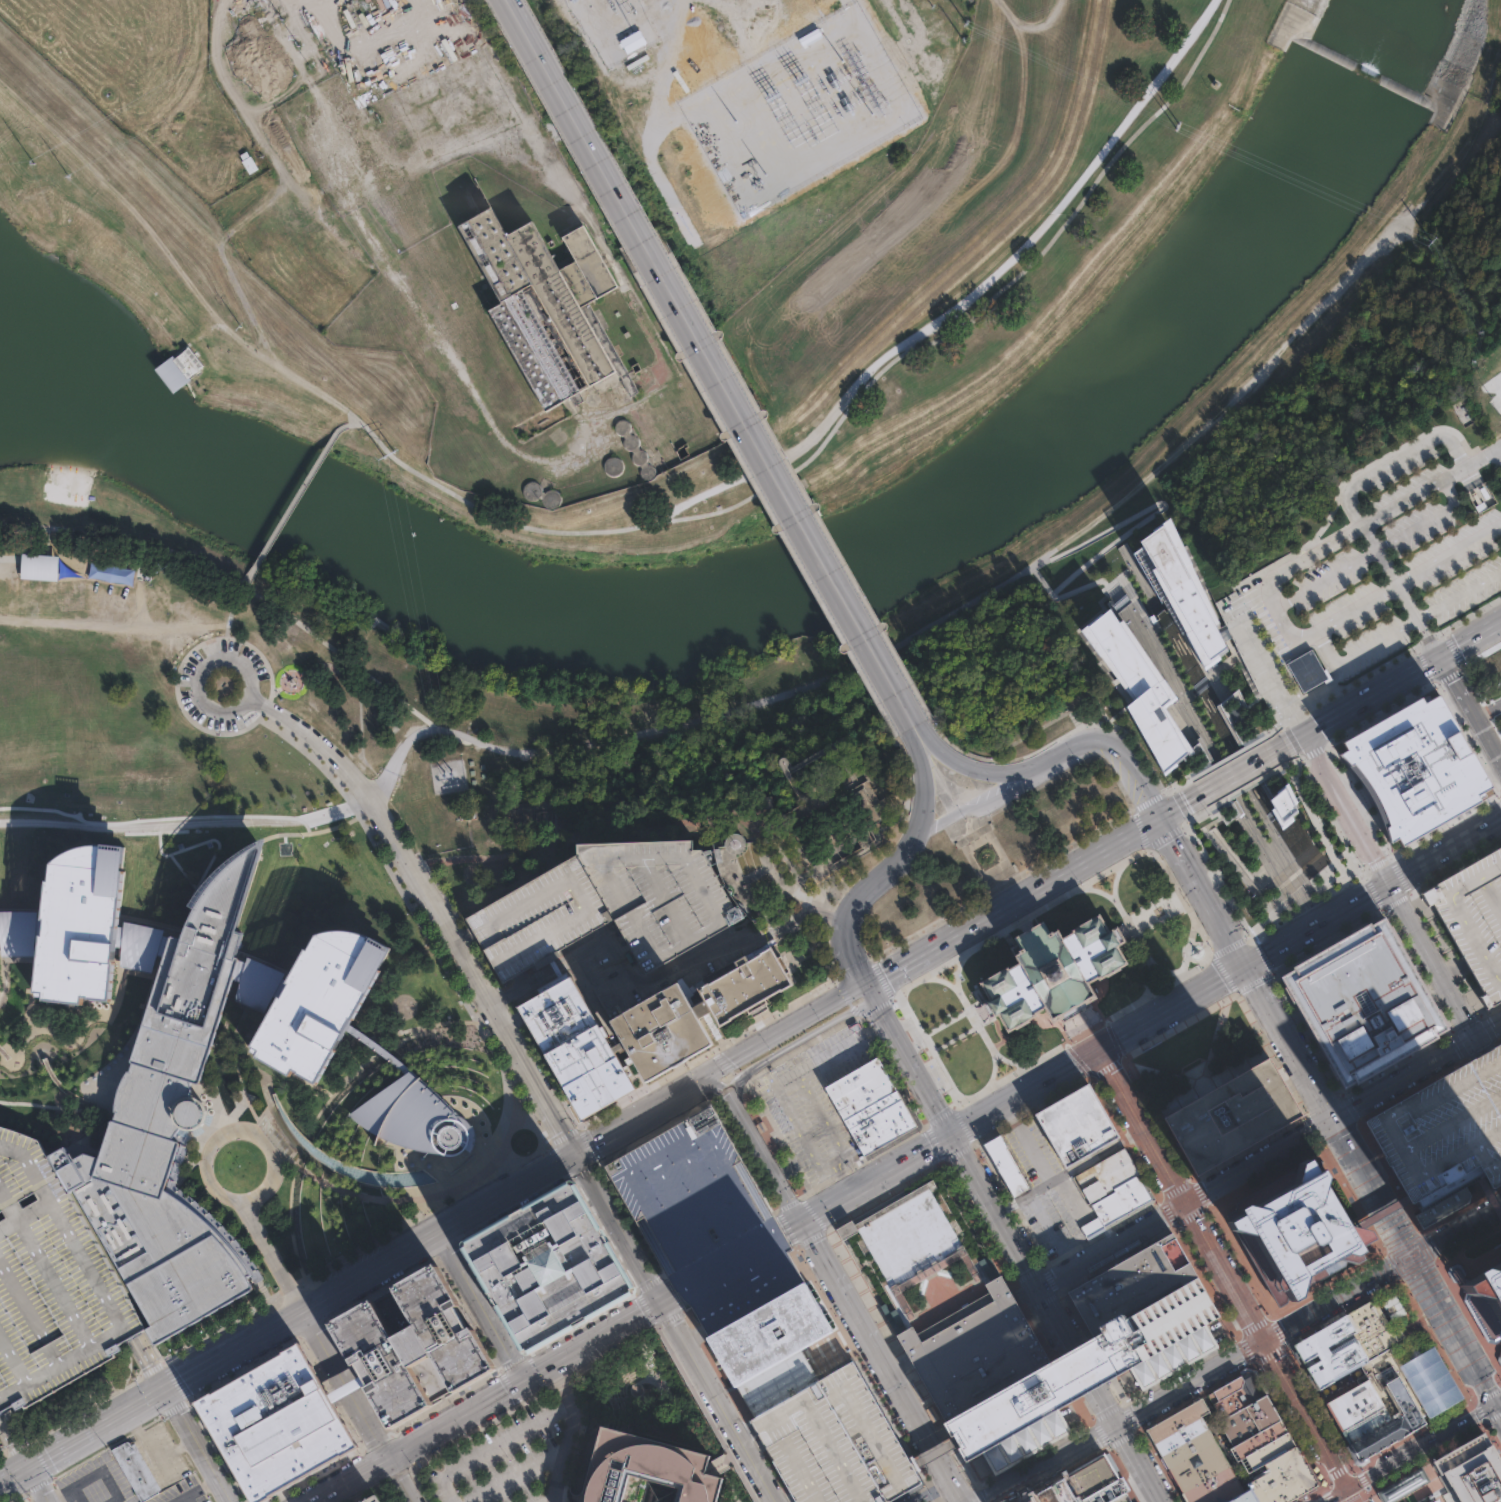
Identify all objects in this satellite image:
road: (339, 40)
power tower: (297, 45)
road: (1492, 68)
power tower: (33, 162)
building: (248, 162)
power tower: (68, 176)
road: (561, 177)
park: (928, 179)
road: (1419, 199)
park: (1394, 223)
road: (384, 269)
road: (970, 295)
building: (543, 305)
park: (1094, 338)
river: (44, 347)
park: (130, 350)
road: (709, 362)
building: (179, 367)
road: (290, 371)
river: (44, 394)
road: (852, 410)
road: (352, 424)
building: (635, 449)
power tower: (385, 457)
road: (1394, 457)
road: (300, 494)
road: (1384, 517)
road: (1427, 519)
road: (126, 537)
road: (35, 547)
road: (142, 557)
river: (832, 566)
building: (39, 567)
building: (91, 570)
building: (119, 572)
road: (252, 572)
parking lot: (1379, 574)
road: (1065, 582)
road: (1406, 590)
road: (147, 593)
road: (260, 593)
building: (1185, 597)
road: (1373, 598)
road: (233, 608)
road: (109, 615)
road: (1401, 625)
road: (900, 628)
road: (340, 656)
road: (181, 659)
road: (244, 667)
road: (298, 674)
park: (465, 676)
building: (1304, 677)
parking lot: (1489, 681)
road: (276, 689)
building: (1138, 689)
building: (1494, 693)
road: (1472, 706)
road: (1332, 719)
road: (288, 720)
road: (359, 725)
road: (912, 727)
road: (1049, 755)
road: (396, 761)
road: (591, 765)
building: (1411, 769)
power tower: (446, 771)
road: (1232, 774)
power substation: (447, 775)
road: (923, 796)
road: (993, 801)
building: (761, 802)
building: (1283, 805)
road: (1350, 810)
road: (658, 811)
traffic signals: (1163, 815)
road: (157, 819)
building: (835, 822)
road: (326, 829)
road: (1174, 843)
park: (994, 850)
road: (1145, 851)
road: (1446, 854)
road: (1280, 864)
road: (1361, 866)
road: (1114, 879)
road: (1043, 882)
road: (864, 894)
building: (607, 900)
parking lot: (607, 900)
building: (1473, 915)
parking garage: (1473, 915)
road: (1216, 919)
building: (78, 920)
road: (1022, 920)
road: (1129, 926)
road: (1127, 927)
road: (1130, 928)
road: (1318, 928)
building: (18, 931)
road: (1116, 933)
building: (138, 943)
road: (456, 946)
road: (1188, 948)
road: (852, 962)
road: (894, 966)
road: (958, 966)
building: (1049, 968)
traffic signals: (1244, 968)
road: (1435, 968)
road: (1162, 970)
road: (653, 976)
building: (254, 980)
building: (744, 983)
traffic signals: (865, 983)
road: (870, 991)
building: (317, 998)
road: (1096, 998)
traffic signals: (875, 999)
building: (1367, 1002)
road: (1170, 1008)
road: (1074, 1013)
road: (975, 1015)
road: (995, 1017)
road: (974, 1021)
road: (945, 1022)
road: (1030, 1022)
road: (1081, 1025)
building: (661, 1029)
road: (782, 1030)
road: (1084, 1030)
traffic signals: (1472, 1037)
road: (955, 1038)
road: (798, 1040)
building: (573, 1042)
building: (376, 1046)
traffic signals: (1097, 1050)
park: (1199, 1053)
road: (844, 1054)
road: (1008, 1060)
road: (914, 1067)
road: (1106, 1067)
road: (1490, 1068)
road: (713, 1084)
building: (859, 1088)
road: (1024, 1091)
road: (55, 1105)
road: (1341, 1108)
road: (1330, 1109)
road: (637, 1115)
building: (413, 1116)
building: (1233, 1116)
road: (817, 1119)
building: (169, 1122)
building: (879, 1122)
building: (1076, 1125)
building: (1444, 1127)
parking garage: (1444, 1127)
traffic signals: (954, 1135)
road: (1027, 1142)
road: (763, 1156)
building: (1004, 1162)
road: (1071, 1169)
road: (845, 1174)
road: (876, 1178)
building: (1113, 1186)
parking lot: (1047, 1190)
road: (1489, 1193)
road: (228, 1198)
traffic signals: (1184, 1199)
road: (997, 1207)
road: (1461, 1208)
road: (1380, 1214)
building: (703, 1217)
parking garage: (703, 1217)
road: (790, 1226)
road: (619, 1227)
road: (1456, 1227)
building: (1298, 1229)
road: (439, 1232)
road: (1112, 1240)
road: (642, 1250)
traffic signals: (1412, 1253)
road: (271, 1255)
road: (728, 1262)
building: (545, 1267)
road: (1223, 1268)
road: (1400, 1281)
building: (50, 1282)
parking garage: (50, 1282)
road: (1327, 1284)
road: (1451, 1285)
building: (1484, 1285)
road: (1338, 1295)
road: (669, 1298)
traffic signals: (663, 1302)
road: (479, 1308)
road: (1253, 1326)
road: (1453, 1328)
road: (1278, 1329)
building: (769, 1334)
traffic signals: (1264, 1338)
road: (1435, 1342)
building: (1343, 1343)
building: (409, 1344)
building: (972, 1345)
road: (235, 1350)
road: (1245, 1351)
road: (1079, 1352)
building: (1171, 1356)
road: (1269, 1356)
road: (150, 1361)
road: (880, 1361)
road: (1179, 1370)
building: (776, 1381)
road: (1191, 1381)
building: (1429, 1381)
traffic signals: (523, 1382)
road: (345, 1385)
road: (344, 1386)
traffic signals: (167, 1390)
building: (1236, 1392)
road: (1194, 1394)
road: (1487, 1395)
road: (1472, 1401)
road: (487, 1402)
road: (719, 1402)
road: (1498, 1402)
traffic signals: (1495, 1404)
road: (1497, 1409)
road: (1106, 1411)
road: (1478, 1412)
building: (1385, 1416)
road: (1492, 1416)
road: (1130, 1417)
building: (1176, 1419)
road: (1326, 1419)
building: (274, 1422)
building: (1360, 1423)
traffic signals: (1118, 1425)
road: (98, 1430)
road: (570, 1432)
road: (1098, 1434)
road: (1294, 1434)
building: (1179, 1435)
building: (1024, 1439)
road: (1122, 1439)
road: (1490, 1439)
building: (834, 1442)
parking garage: (834, 1442)
road: (14, 1444)
road: (147, 1444)
road: (1421, 1445)
road: (198, 1446)
road: (495, 1446)
building: (1186, 1447)
road: (174, 1448)
road: (934, 1451)
building: (1264, 1453)
parking lot: (162, 1454)
parking lot: (499, 1460)
road: (1052, 1463)
road: (1139, 1463)
road: (1160, 1465)
building: (1197, 1466)
building: (136, 1468)
traffic signals: (29, 1470)
building: (645, 1470)
building: (1469, 1470)
road: (1123, 1473)
road: (518, 1474)
road: (14, 1478)
road: (400, 1480)
parking lot: (94, 1481)
building: (1078, 1482)
building: (1403, 1485)
road: (38, 1486)
building: (1214, 1487)
park: (1408, 1487)
road: (199, 1488)
traffic signals: (1349, 1488)
parking lot: (182, 1492)
building: (1108, 1492)
road: (1308, 1493)
road: (1336, 1494)
road: (1353, 1495)
road: (65, 1496)
road: (549, 1498)
building: (1121, 1498)
road: (1425, 1498)
road: (181, 1499)
building: (370, 1499)
parking garage: (370, 1499)
road: (1370, 1499)
road: (1365, 1501)

